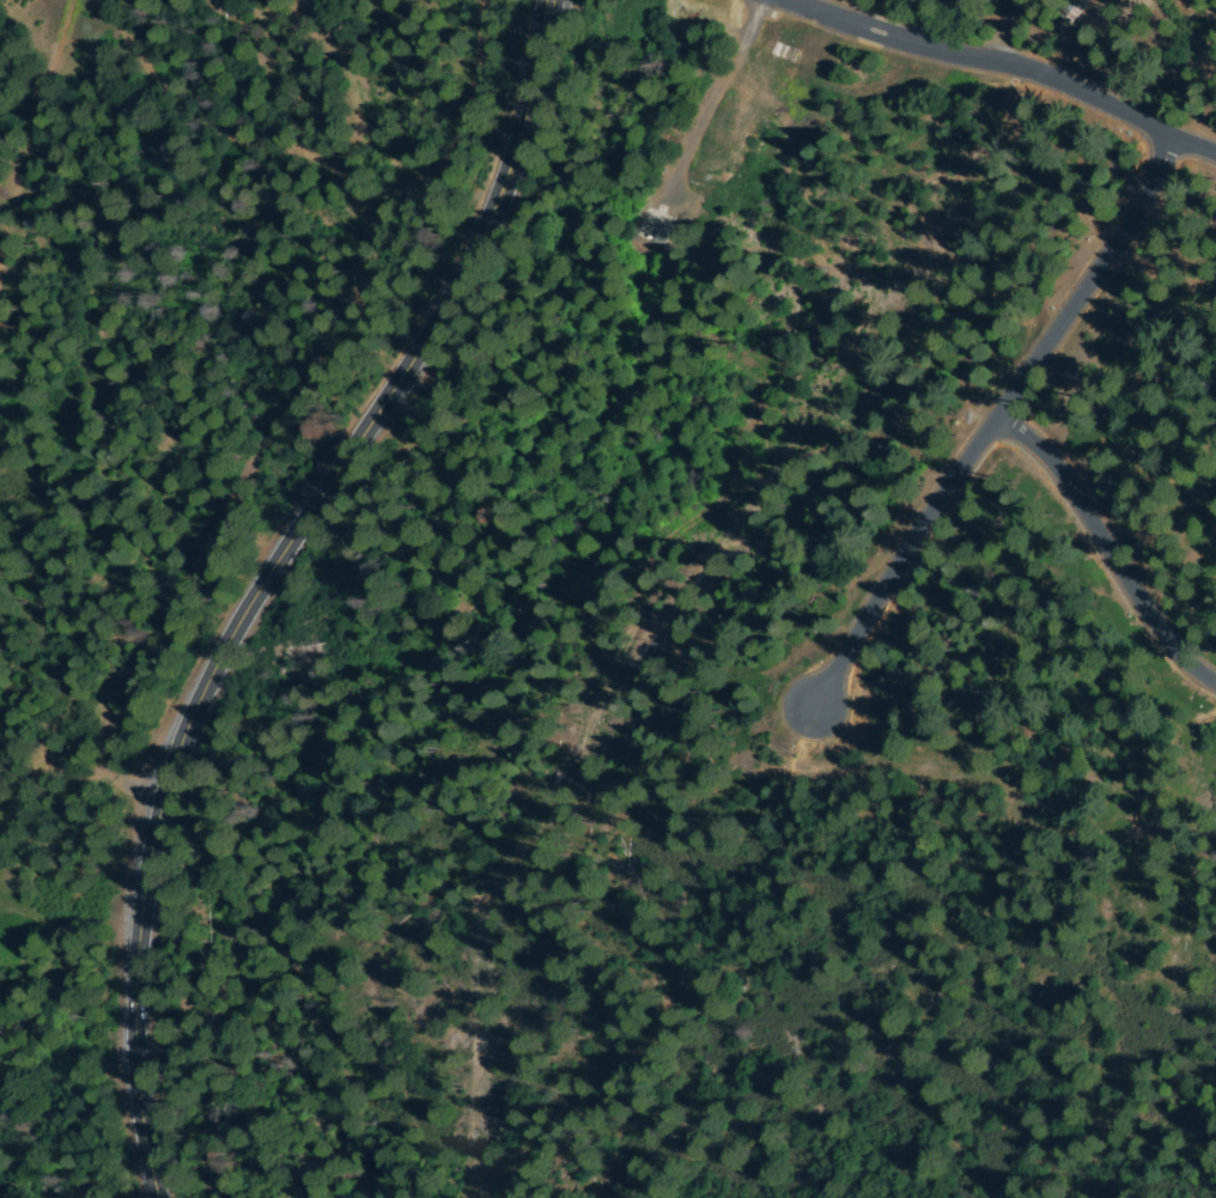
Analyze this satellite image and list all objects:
road: (1053, 35)
road: (1002, 63)
road: (39, 146)
road: (285, 414)
road: (997, 427)
road: (1113, 548)
road: (272, 578)
building: (321, 829)
road: (689, 1012)

